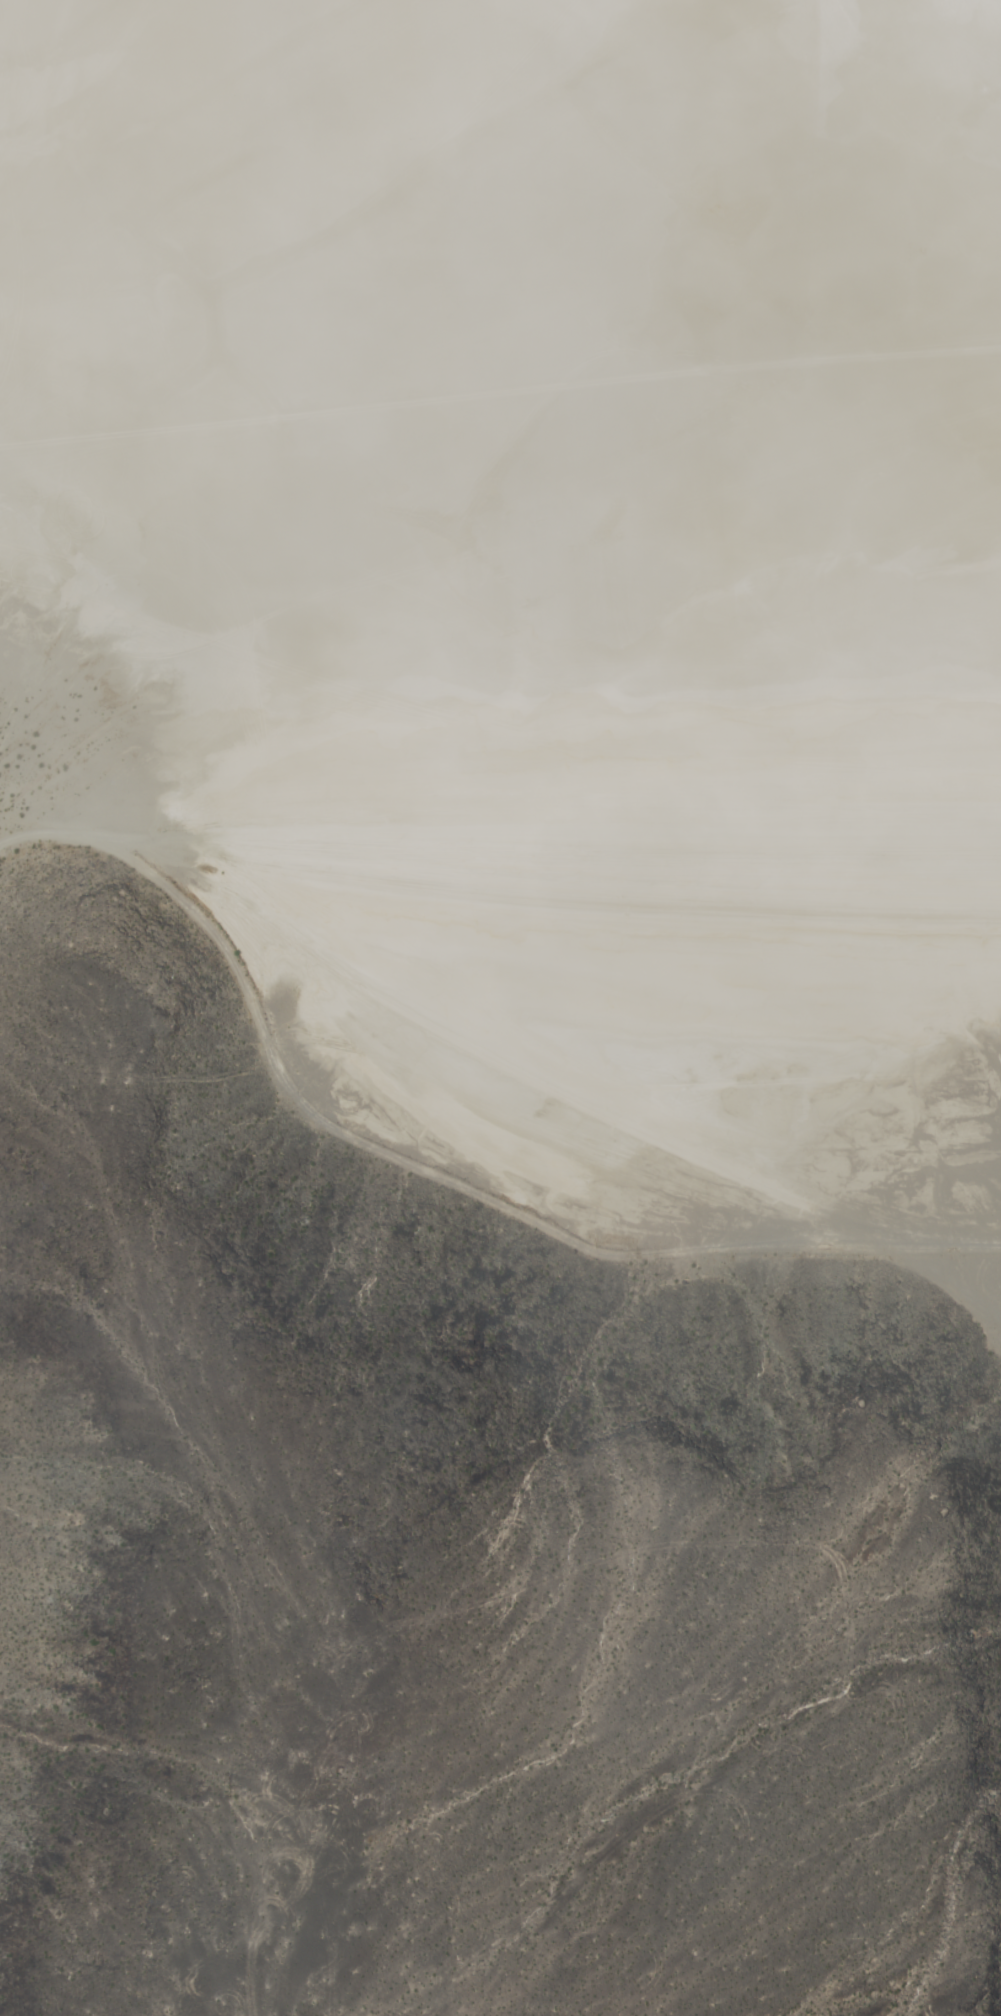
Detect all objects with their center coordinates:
airport: (534, 577)

